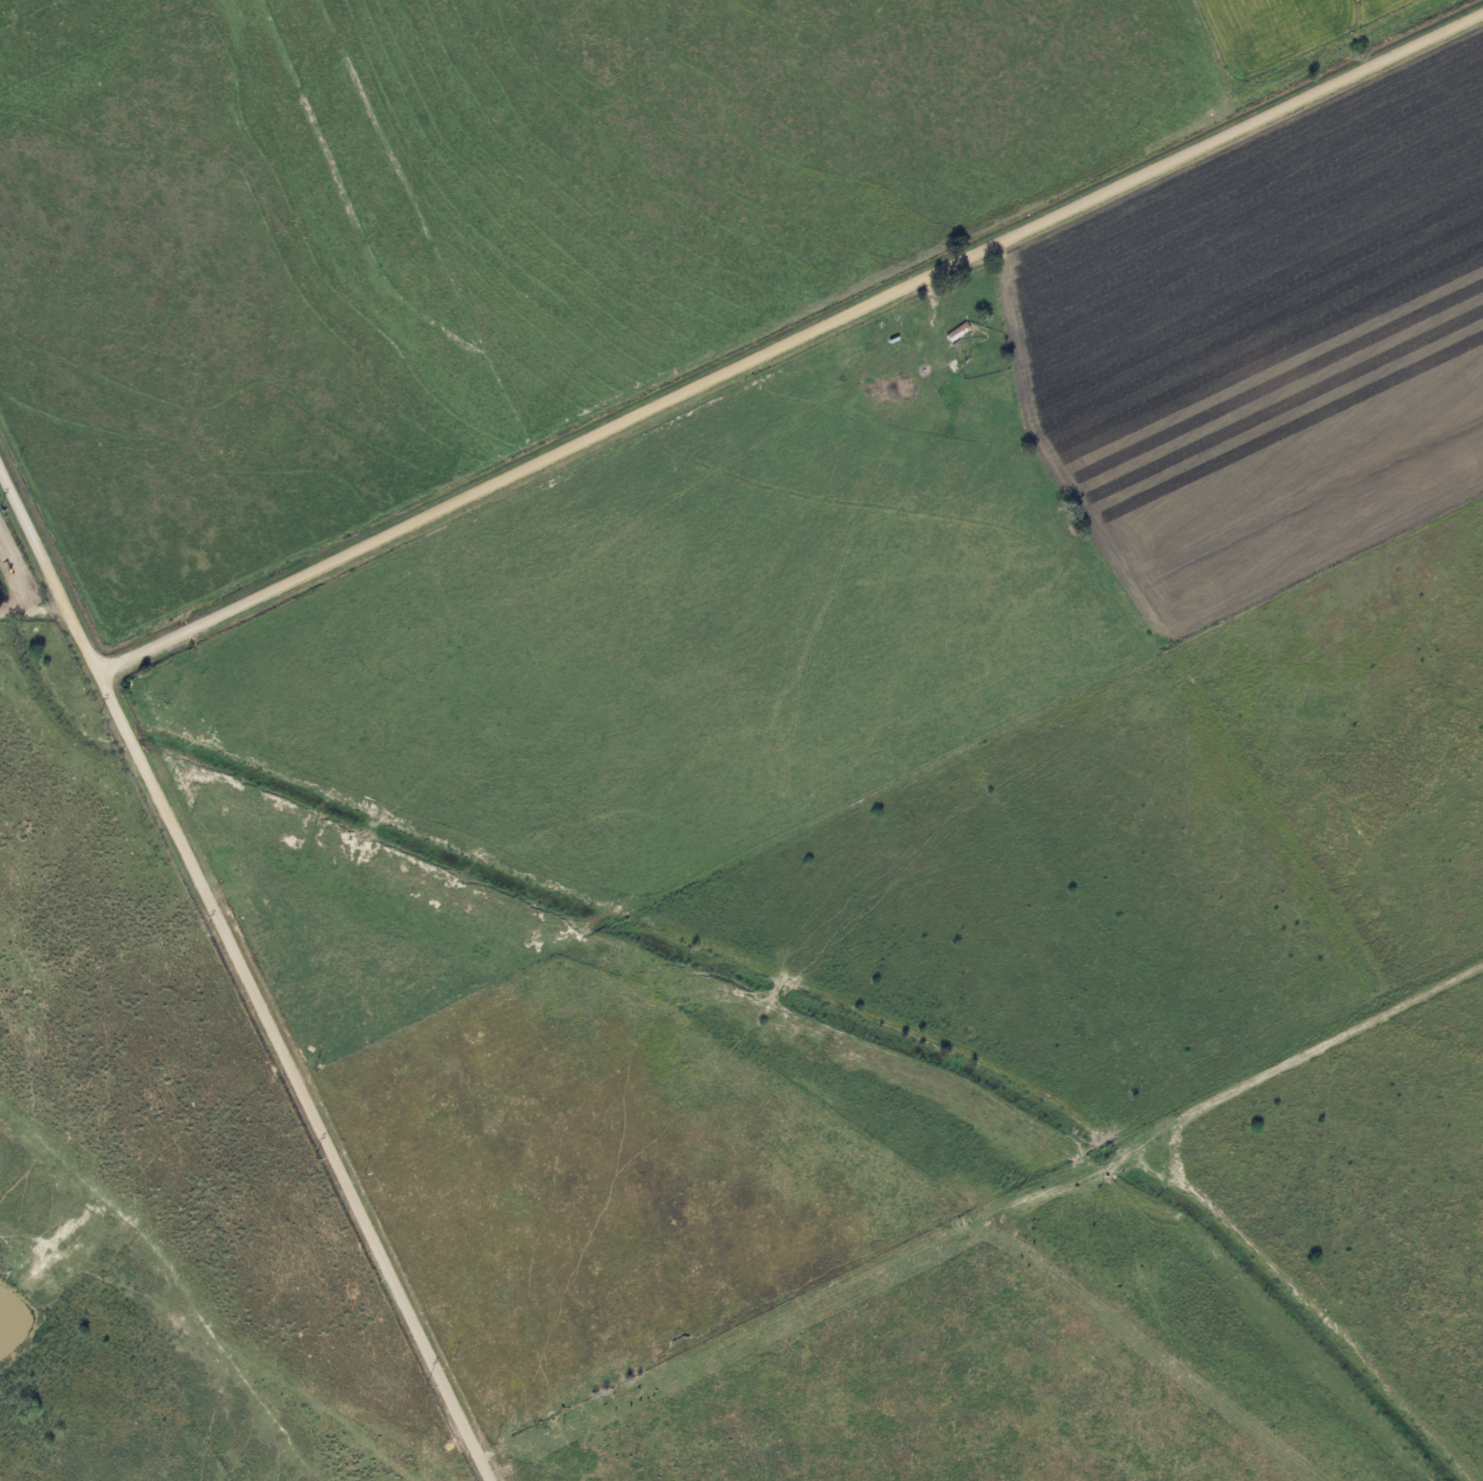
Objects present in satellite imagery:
building: (955, 332)
road: (787, 335)
road: (245, 977)

